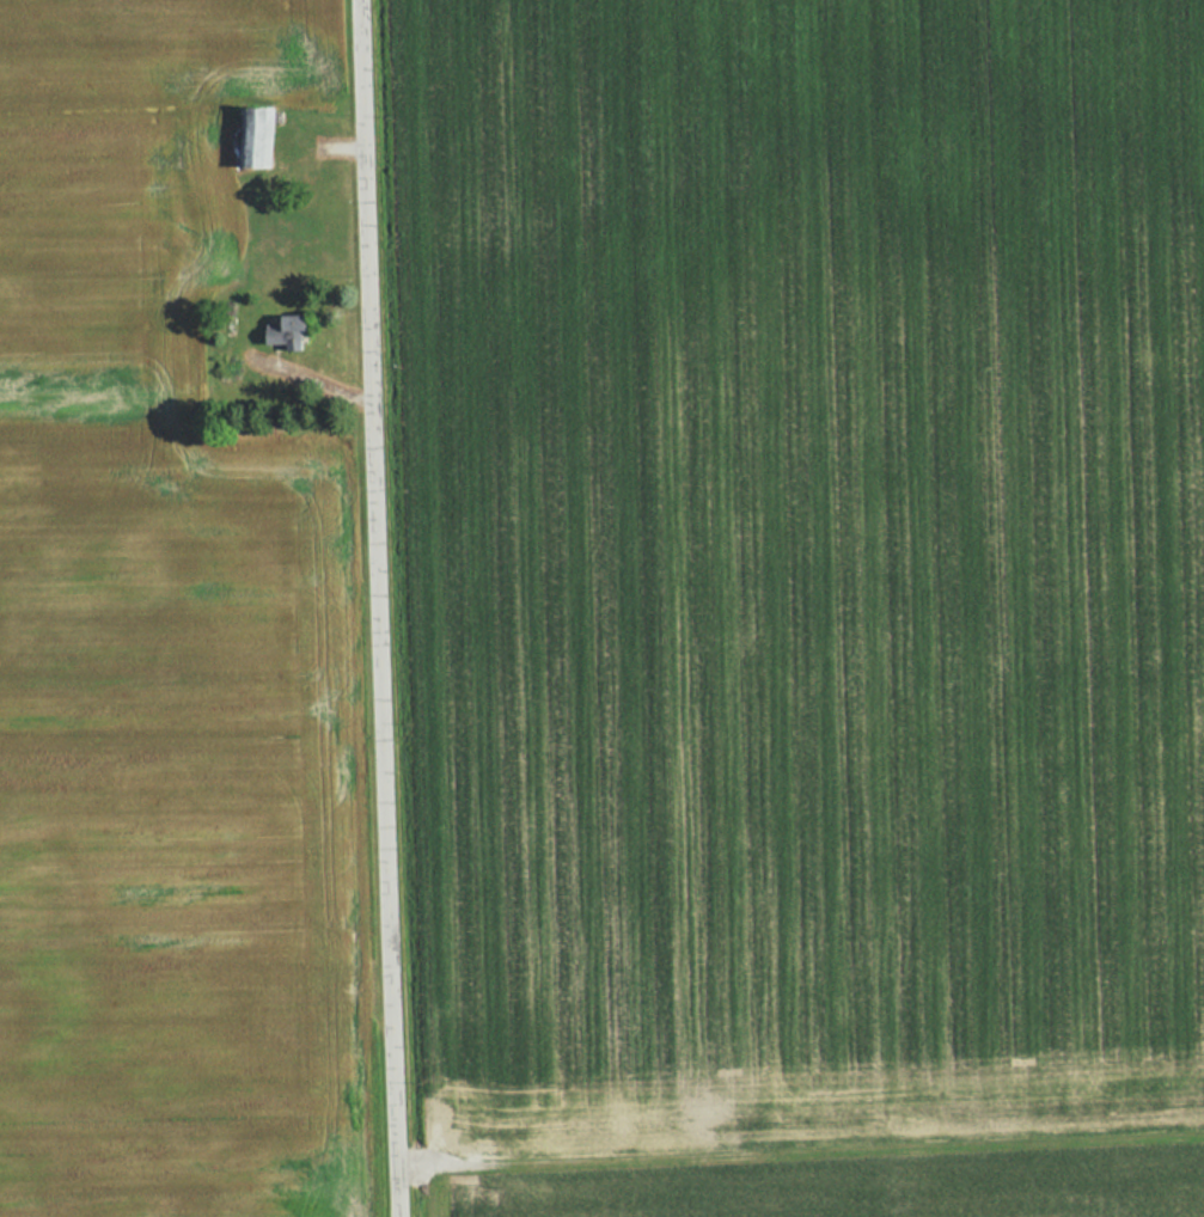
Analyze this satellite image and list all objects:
building: (288, 334)
crop: (802, 562)
road: (368, 608)

